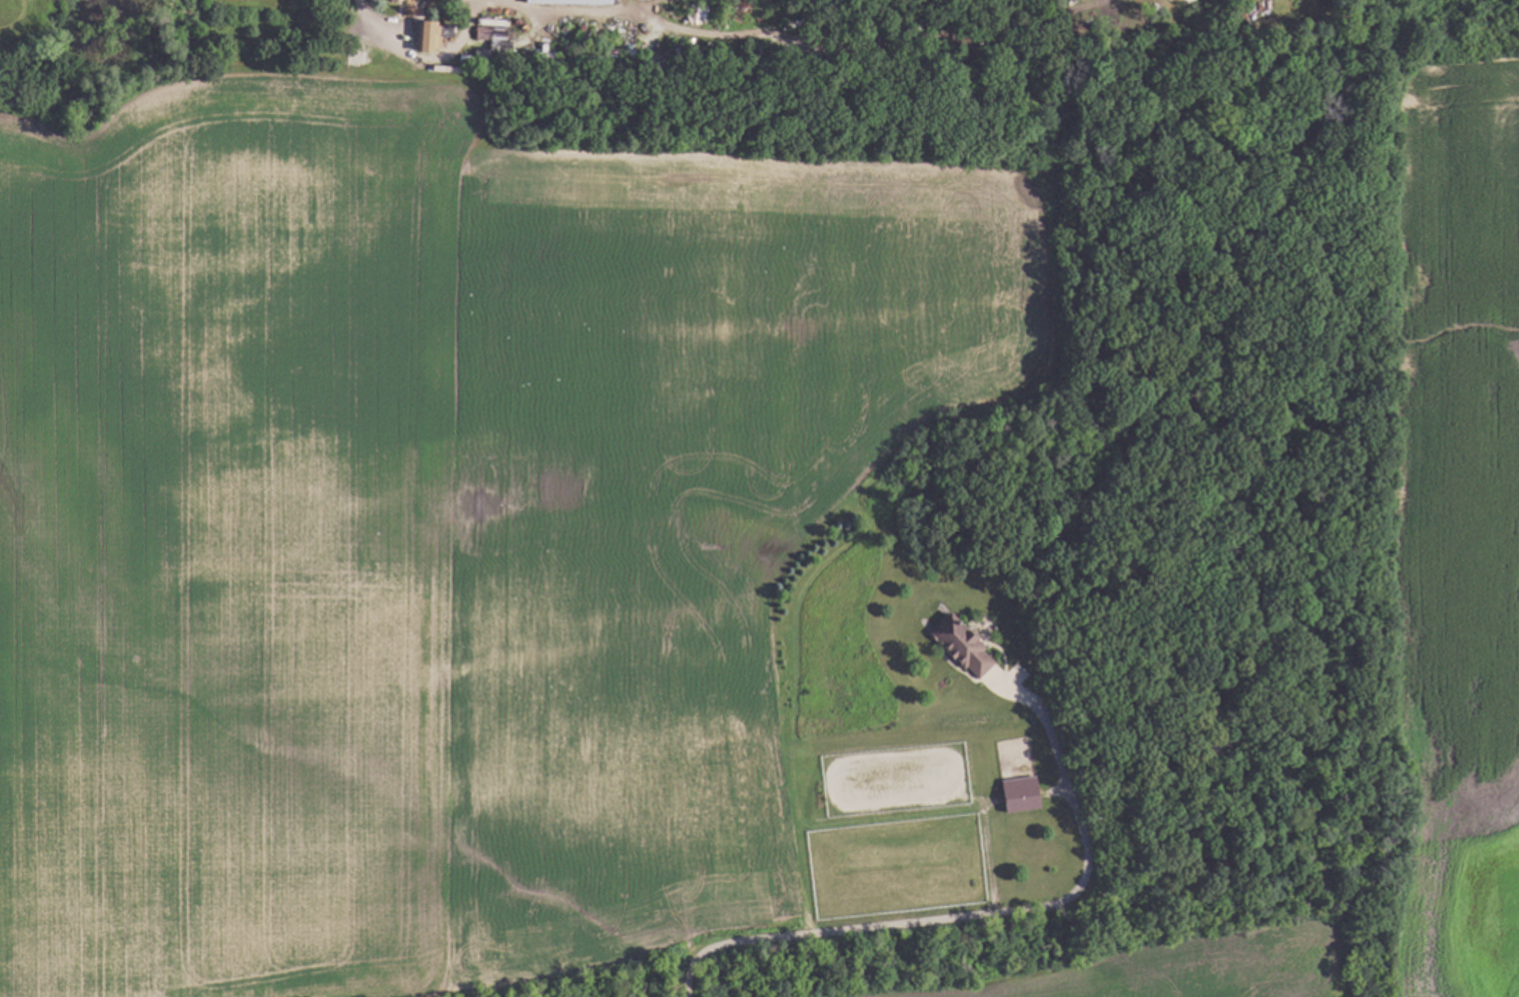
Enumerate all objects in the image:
building: (302, 1)
building: (572, 1)
road: (367, 17)
building: (460, 21)
building: (433, 35)
building: (502, 45)
building: (338, 50)
building: (220, 52)
building: (564, 52)
building: (310, 60)
crop: (438, 522)
crop: (1456, 528)
building: (964, 644)
building: (1023, 794)
road: (969, 917)
crop: (1114, 967)

